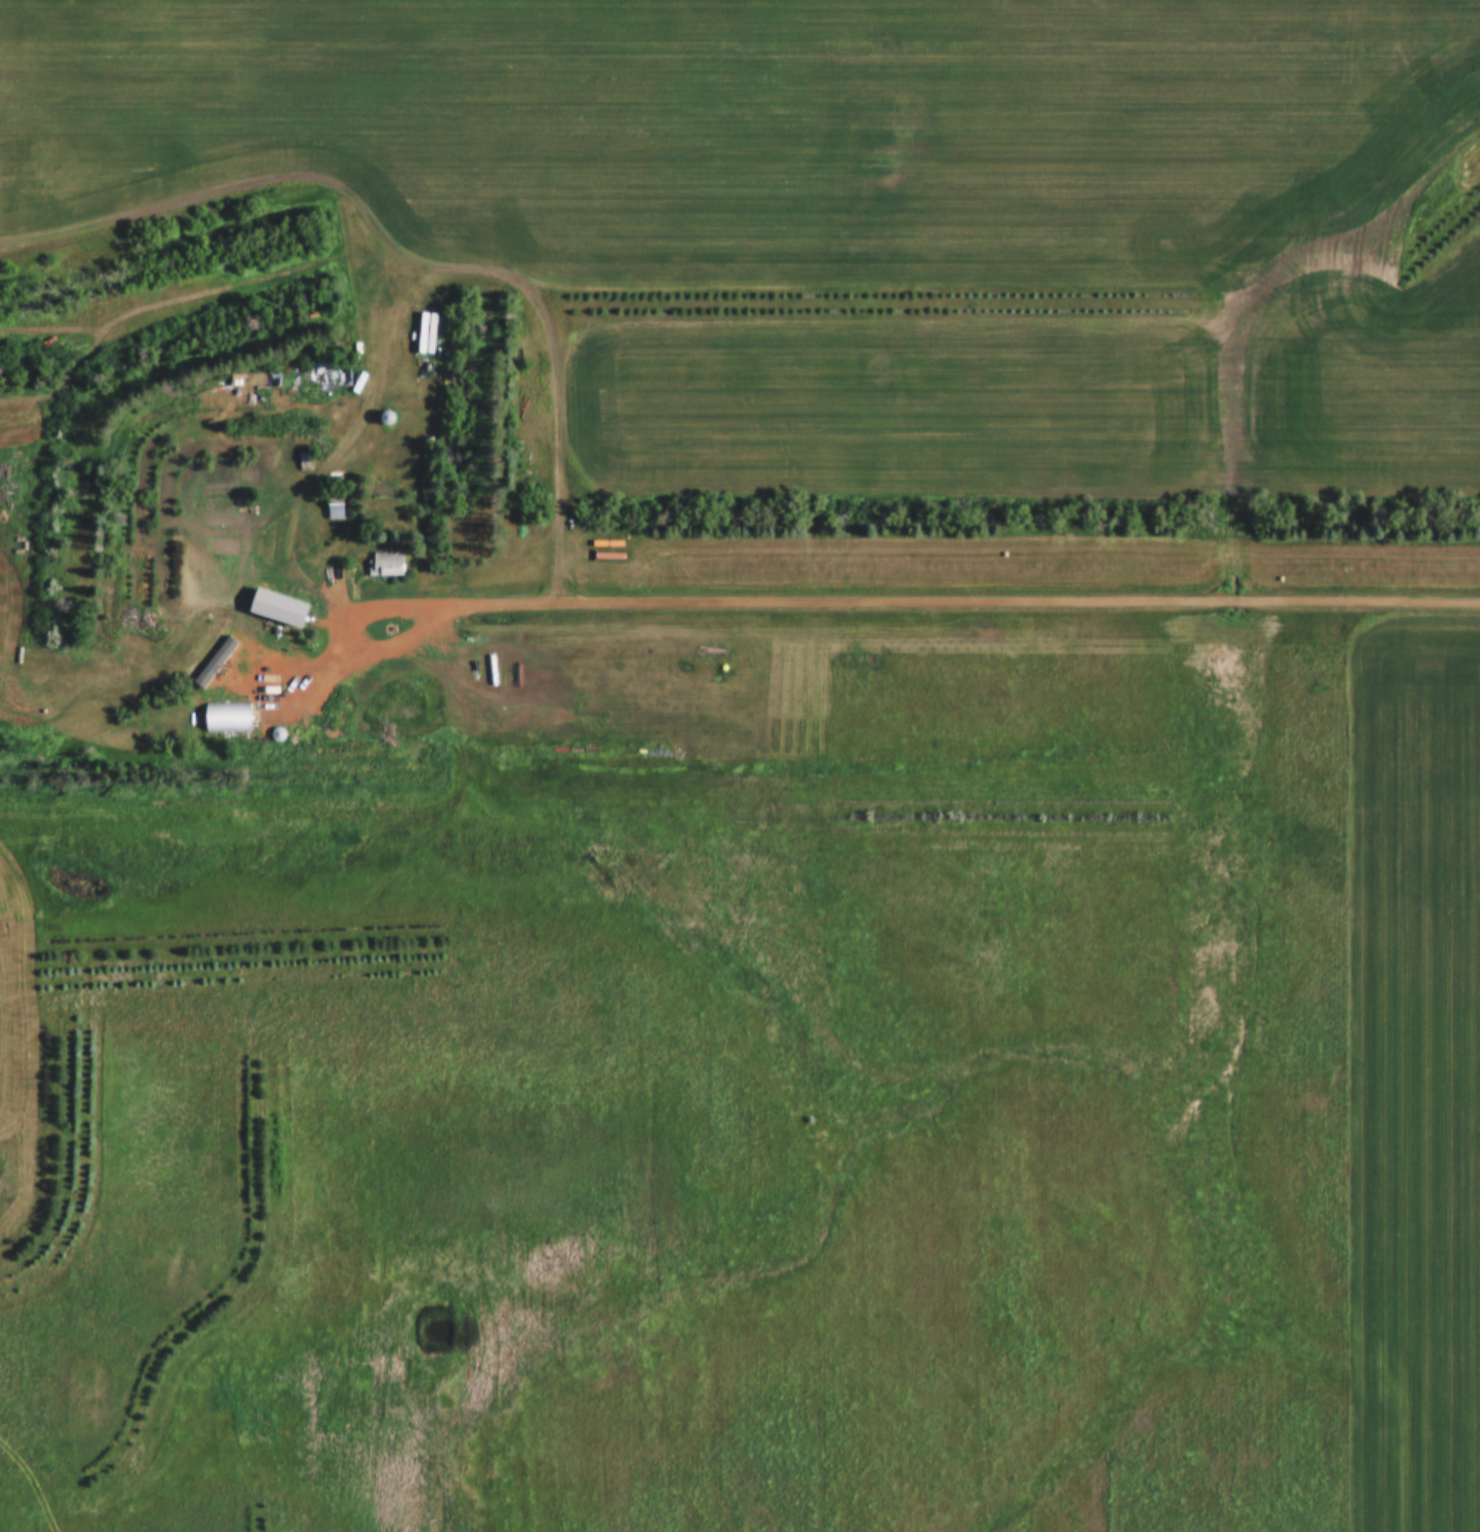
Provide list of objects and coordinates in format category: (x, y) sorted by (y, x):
road: (401, 264)
building: (264, 370)
building: (393, 553)
road: (853, 603)
building: (312, 605)

